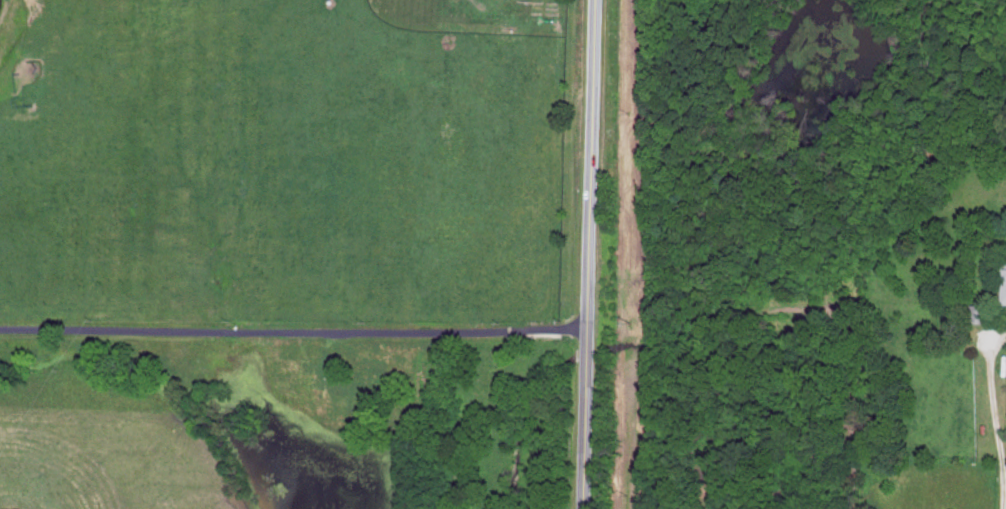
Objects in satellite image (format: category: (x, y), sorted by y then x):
road: (589, 254)
building: (1005, 264)
road: (294, 326)
road: (992, 417)

